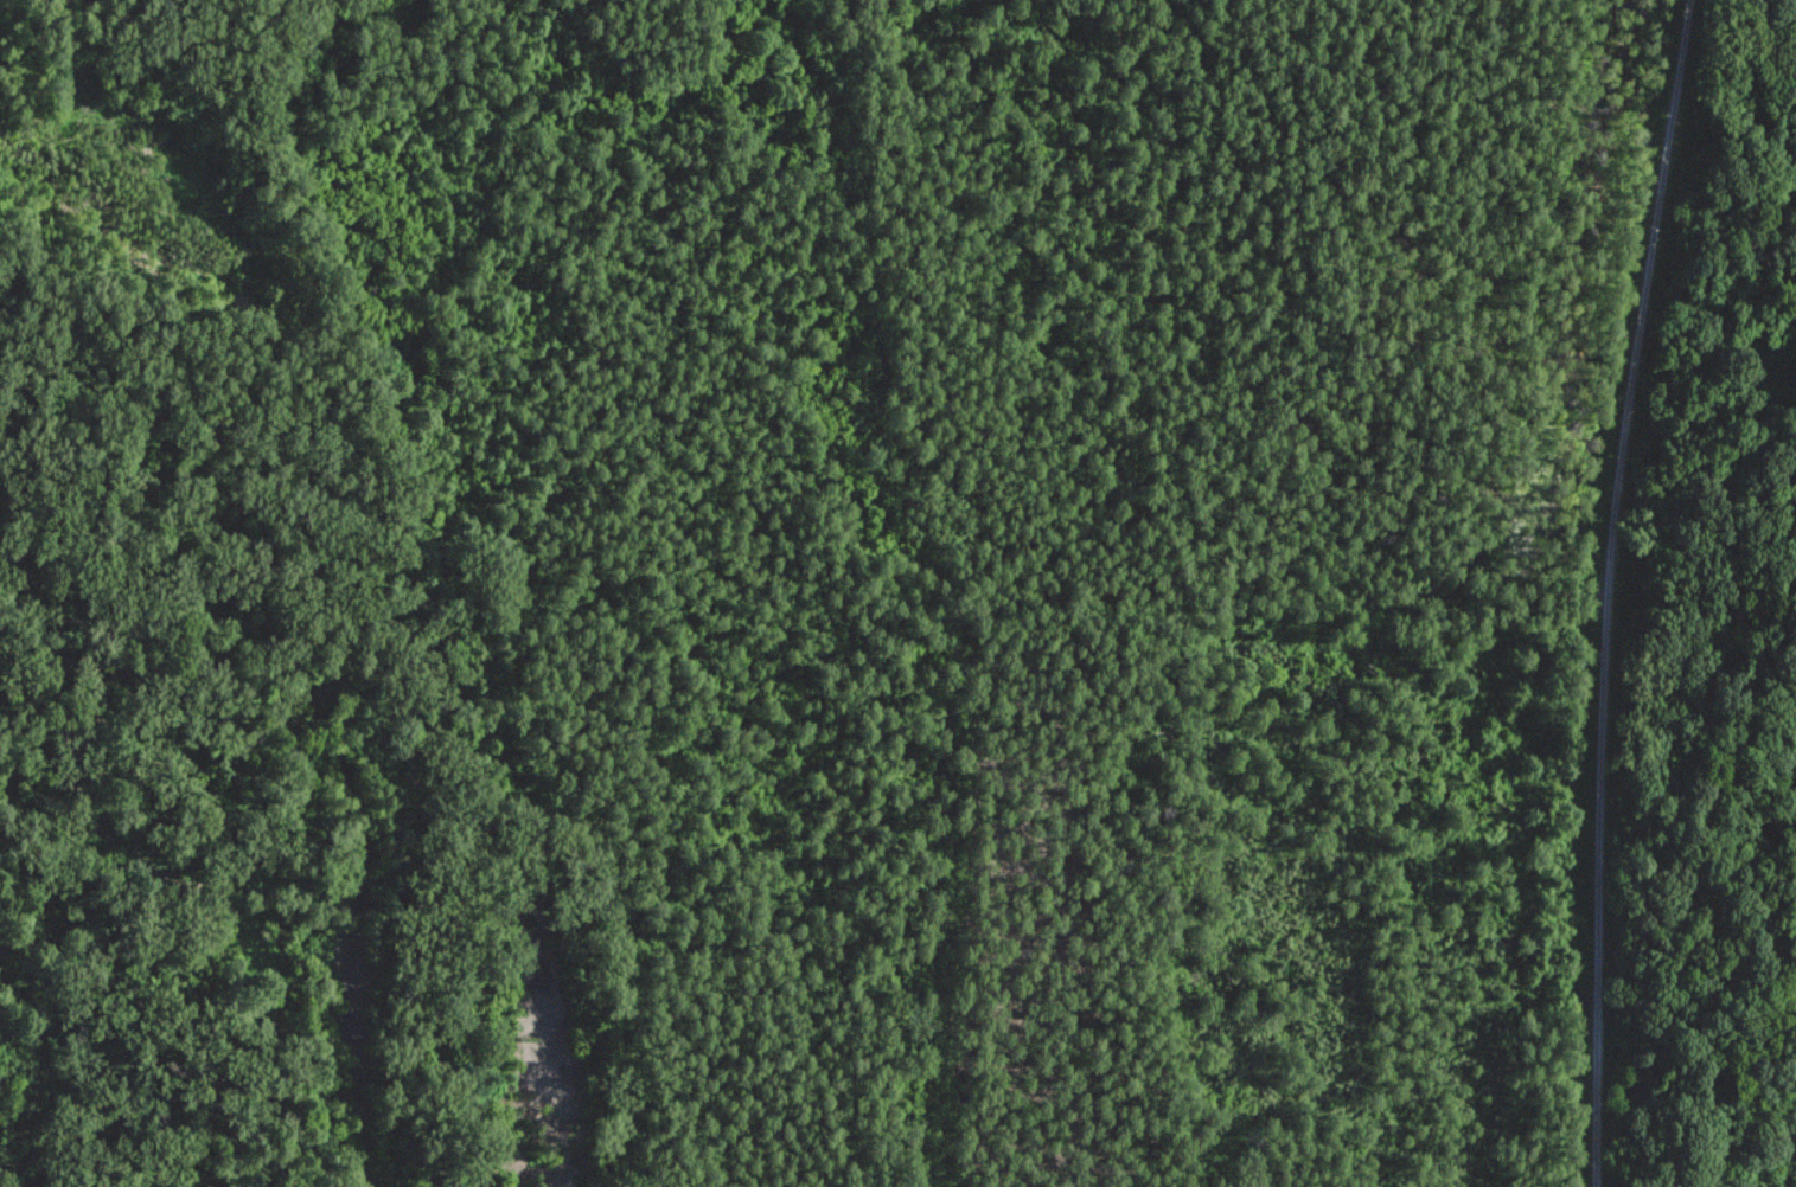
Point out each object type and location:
road: (1613, 591)

